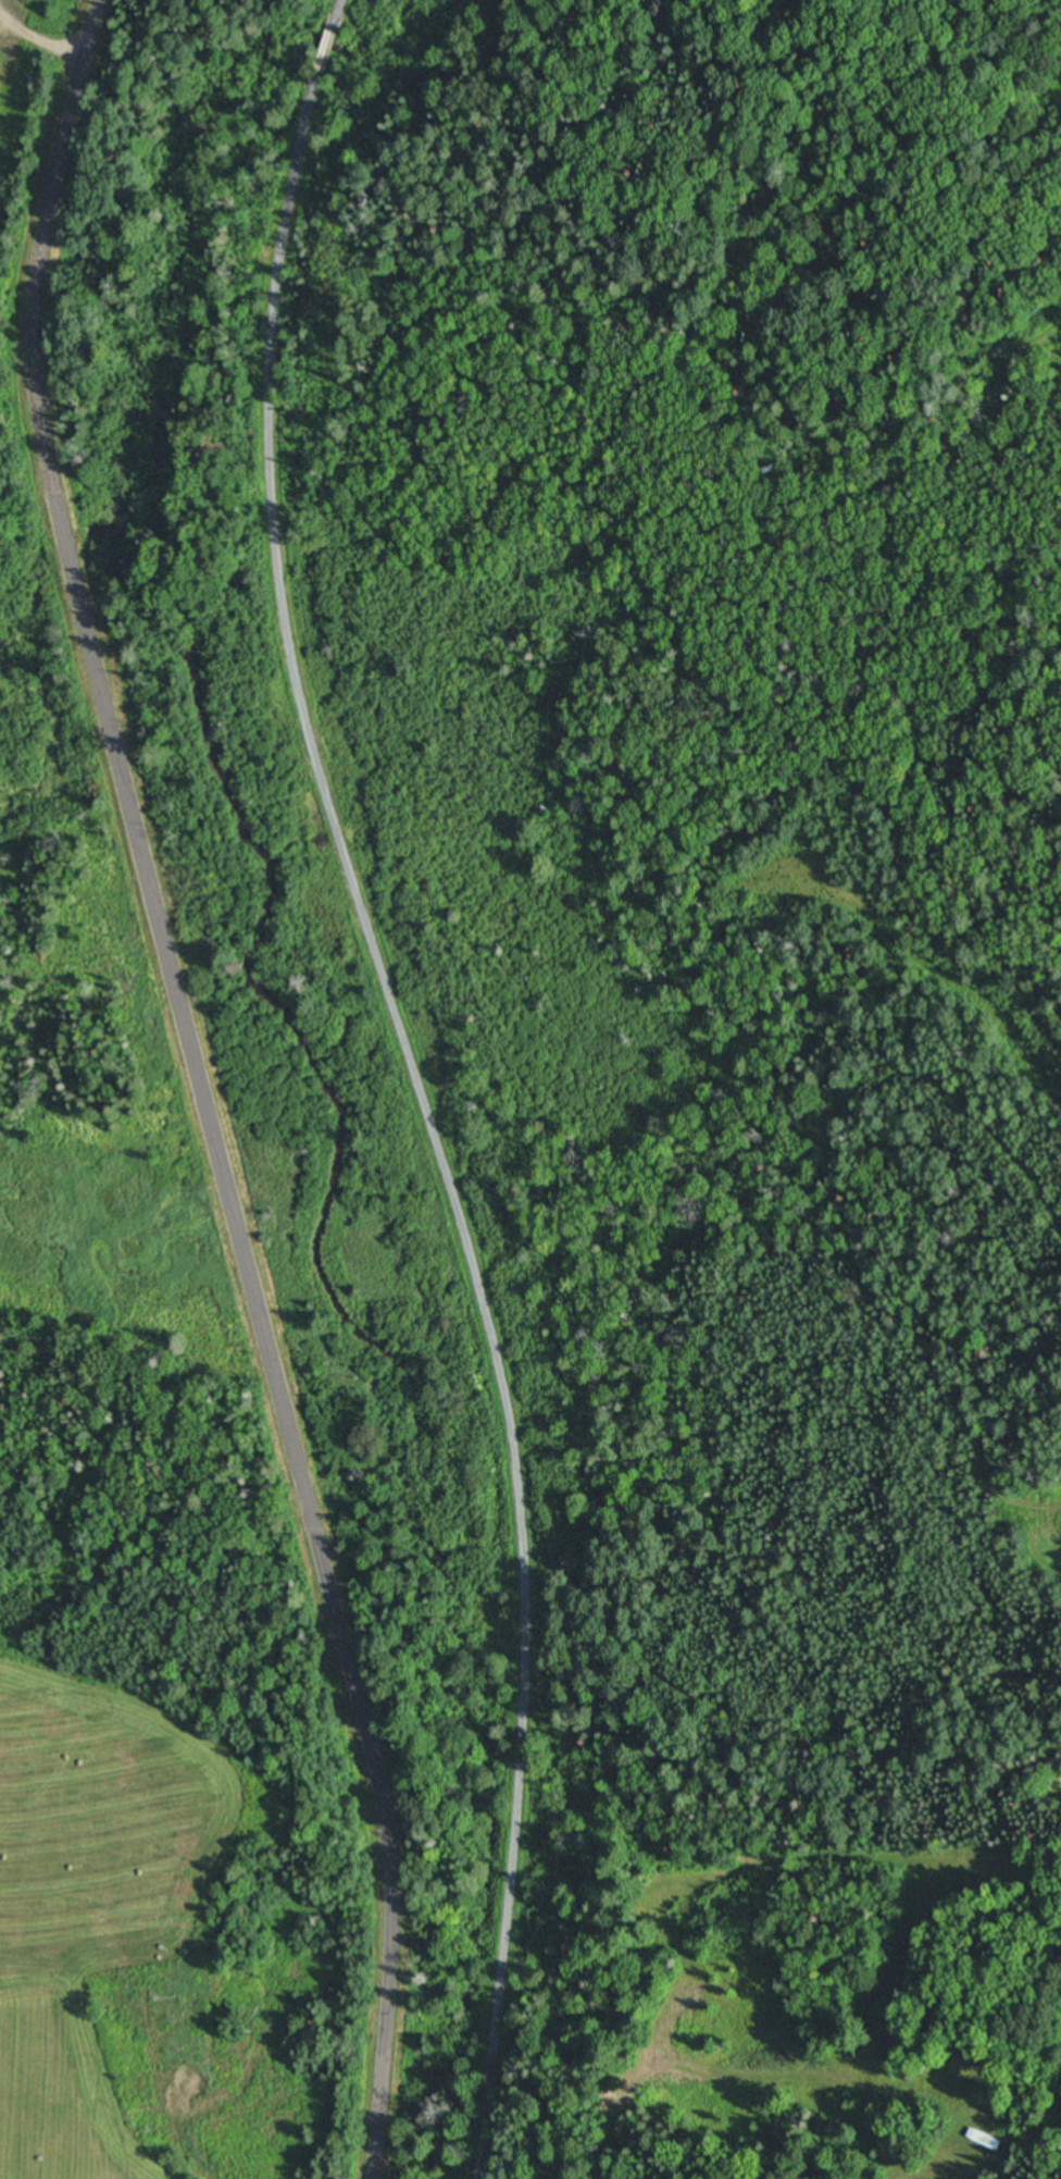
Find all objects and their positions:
road: (337, 15)
road: (18, 36)
road: (327, 41)
road: (182, 1095)
road: (432, 1109)
building: (986, 2140)

